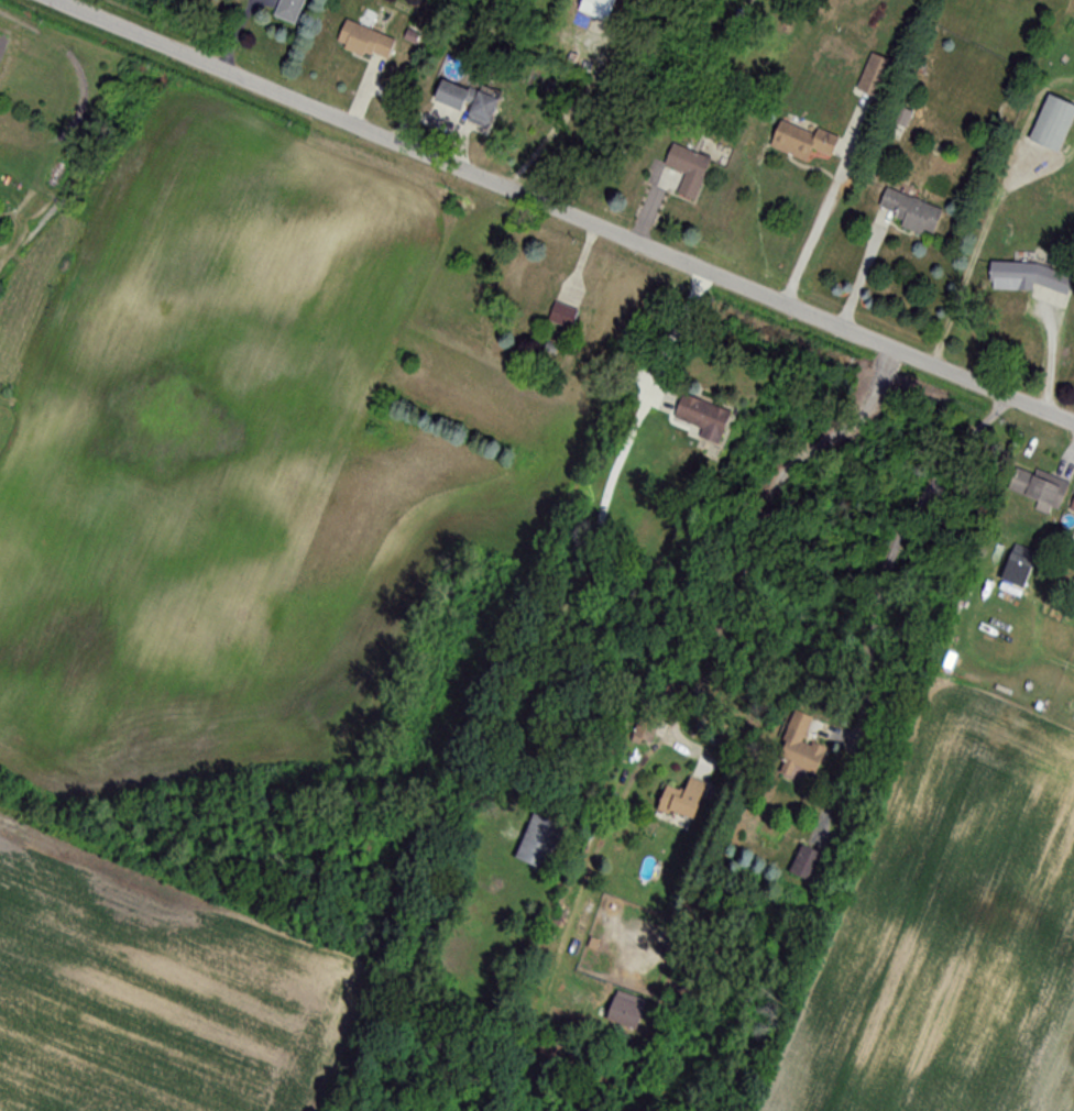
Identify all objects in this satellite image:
building: (594, 9)
building: (287, 10)
building: (363, 42)
building: (873, 77)
building: (447, 96)
building: (480, 112)
road: (557, 124)
building: (1050, 124)
building: (798, 141)
building: (686, 170)
road: (562, 213)
building: (907, 213)
road: (826, 249)
building: (1033, 277)
road: (678, 338)
building: (700, 416)
building: (1037, 486)
building: (1071, 505)
road: (759, 529)
road: (895, 551)
building: (1018, 561)
building: (644, 727)
building: (797, 748)
building: (679, 800)
building: (537, 843)
building: (803, 862)

